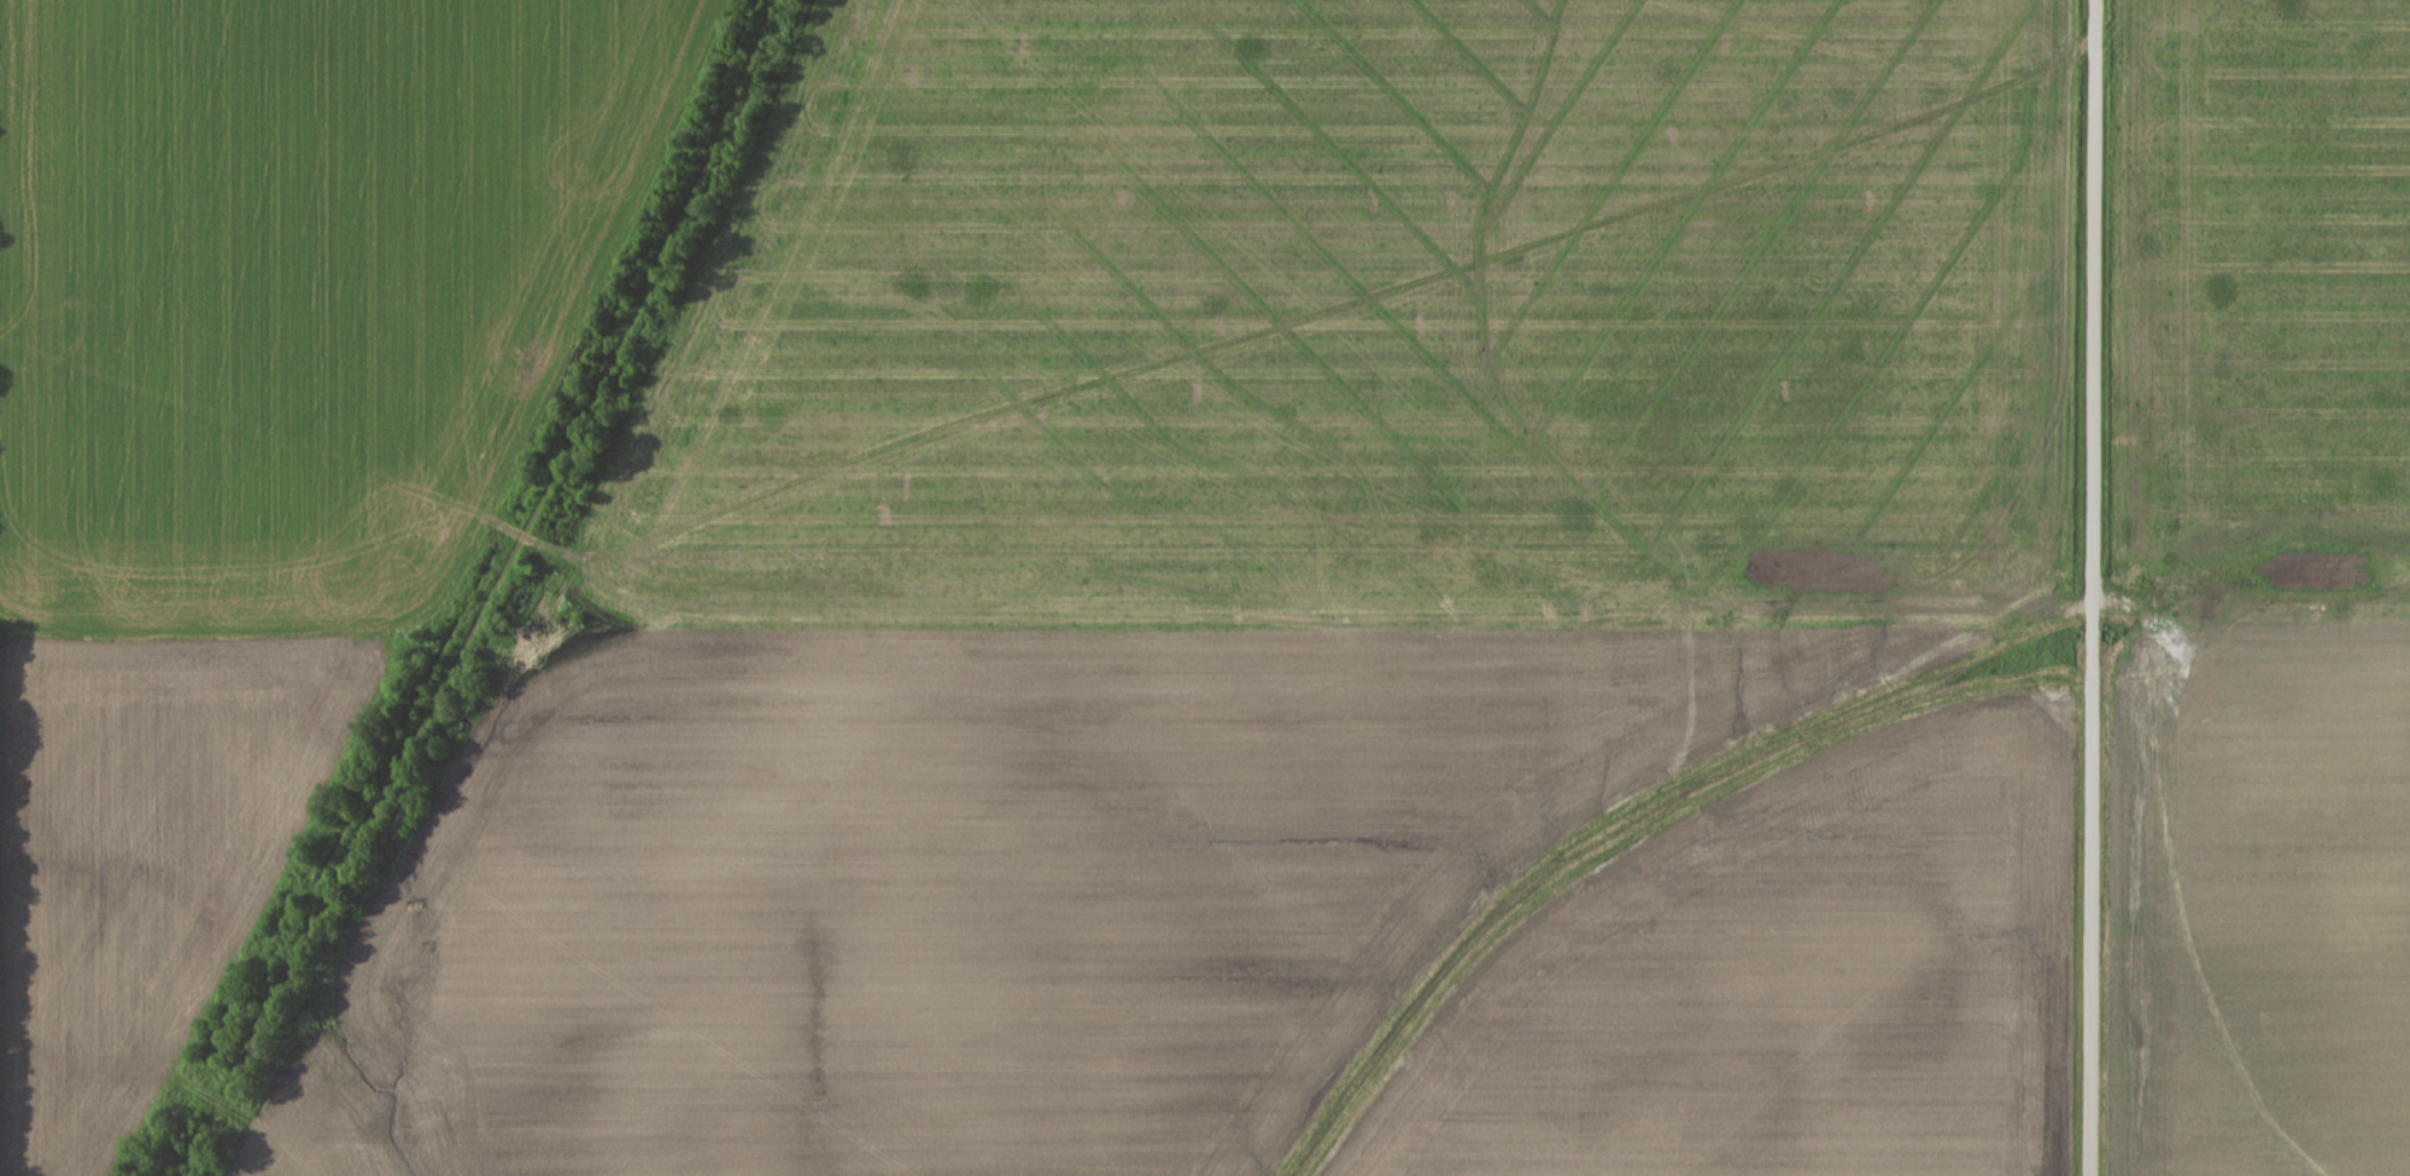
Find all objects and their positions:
road: (2100, 587)

